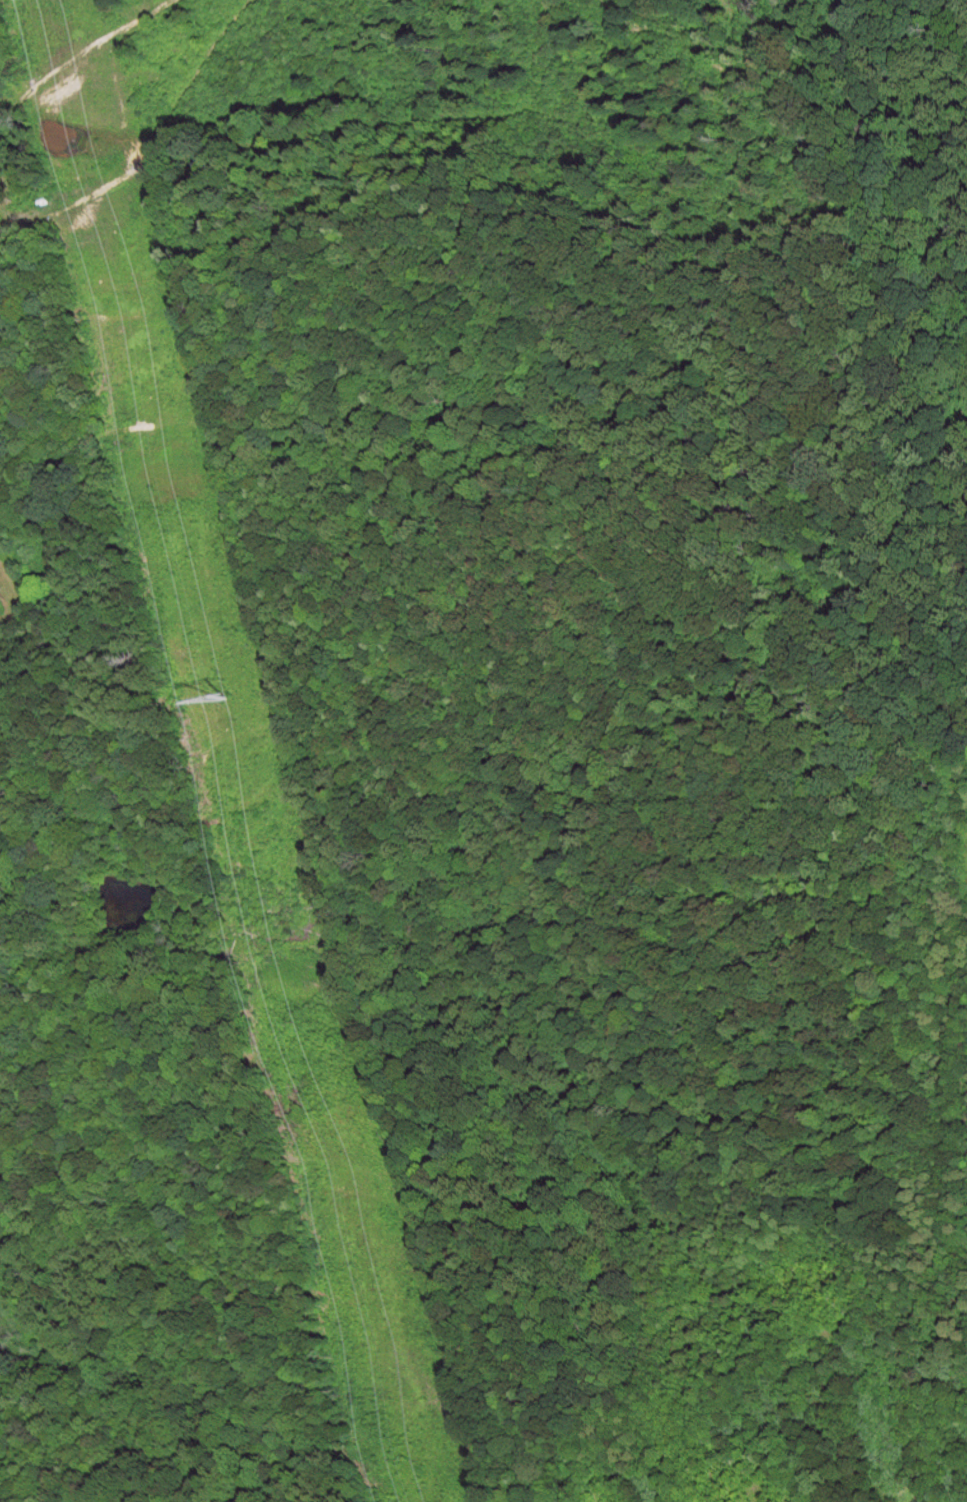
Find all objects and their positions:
power tower: (220, 701)

